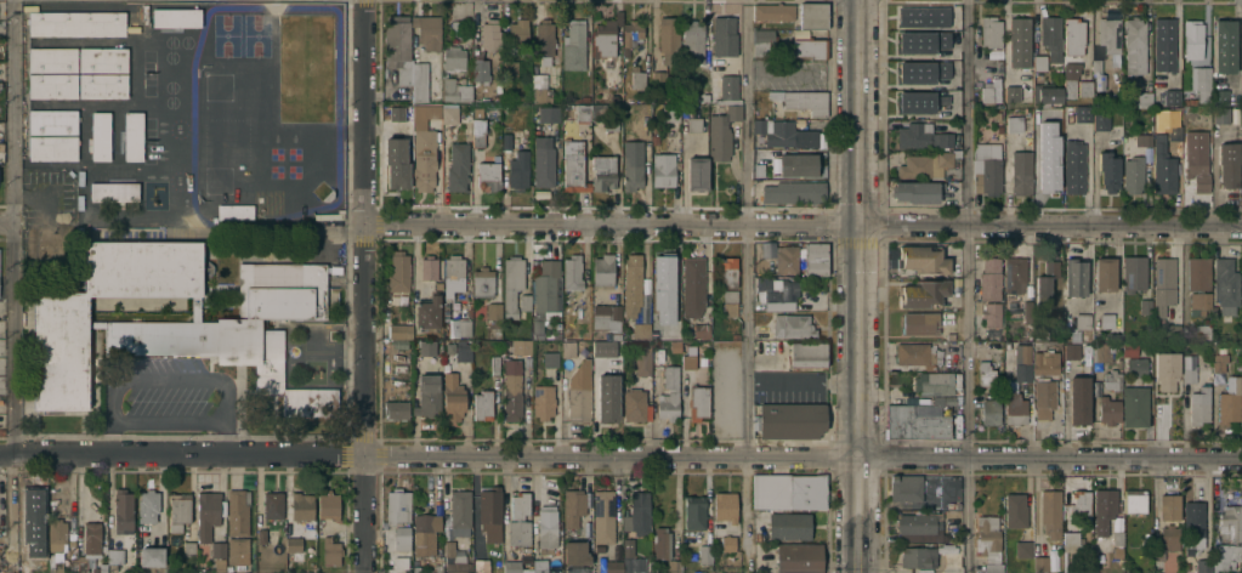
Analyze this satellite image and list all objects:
building: (773, 11)
building: (812, 15)
building: (176, 17)
building: (923, 17)
building: (76, 23)
building: (455, 28)
building: (427, 30)
building: (991, 32)
building: (631, 33)
building: (489, 34)
building: (1108, 34)
building: (517, 35)
building: (724, 35)
building: (1051, 36)
building: (1073, 36)
building: (603, 38)
building: (668, 38)
building: (1192, 38)
building: (396, 39)
building: (544, 40)
building: (692, 40)
building: (761, 41)
building: (921, 42)
building: (1017, 42)
building: (573, 44)
building: (1134, 45)
building: (1163, 45)
building: (1223, 46)
building: (809, 47)
building: (102, 58)
building: (453, 58)
building: (1039, 62)
building: (1096, 67)
building: (509, 68)
building: (480, 70)
building: (52, 72)
building: (920, 73)
building: (636, 76)
building: (658, 76)
building: (1070, 78)
building: (419, 81)
building: (1201, 81)
building: (102, 85)
building: (728, 86)
building: (1084, 87)
building: (455, 90)
building: (991, 90)
building: (1047, 92)
building: (541, 95)
building: (1010, 95)
building: (704, 97)
building: (1144, 97)
building: (1170, 97)
building: (1219, 97)
building: (495, 98)
building: (580, 98)
building: (484, 100)
building: (803, 100)
building: (919, 103)
building: (419, 110)
building: (669, 112)
building: (549, 113)
building: (582, 113)
building: (1083, 113)
building: (396, 114)
building: (449, 114)
building: (776, 114)
building: (1221, 114)
building: (996, 115)
building: (603, 118)
building: (1100, 120)
building: (1014, 124)
building: (693, 125)
building: (1174, 127)
building: (477, 131)
building: (721, 131)
building: (775, 131)
building: (52, 134)
building: (100, 135)
building: (132, 135)
building: (1039, 135)
building: (921, 136)
building: (998, 136)
building: (810, 137)
building: (1142, 138)
building: (506, 140)
building: (654, 140)
building: (424, 159)
building: (543, 160)
building: (573, 161)
building: (928, 163)
building: (1229, 163)
building: (396, 164)
building: (631, 164)
building: (796, 164)
building: (1162, 164)
building: (1197, 164)
building: (458, 166)
building: (1074, 166)
building: (987, 168)
building: (663, 169)
building: (518, 170)
building: (1108, 170)
building: (602, 171)
building: (758, 171)
building: (697, 172)
building: (1021, 172)
building: (1133, 174)
building: (488, 175)
building: (1049, 176)
building: (113, 191)
building: (794, 191)
building: (915, 191)
building: (234, 210)
building: (327, 212)
road: (5, 222)
road: (801, 226)
road: (10, 227)
building: (786, 259)
building: (816, 259)
building: (923, 259)
building: (429, 267)
building: (334, 268)
building: (602, 270)
building: (398, 271)
building: (572, 271)
building: (664, 271)
building: (726, 271)
building: (1134, 272)
building: (1197, 272)
building: (1014, 273)
building: (1105, 273)
building: (453, 274)
building: (1076, 276)
building: (989, 279)
building: (482, 280)
building: (511, 283)
building: (631, 283)
building: (1045, 283)
road: (744, 284)
building: (1163, 284)
building: (1225, 284)
building: (438, 285)
building: (692, 285)
road: (968, 285)
road: (362, 286)
building: (776, 286)
road: (857, 286)
building: (545, 293)
building: (923, 293)
building: (524, 301)
building: (728, 301)
building: (1198, 302)
building: (1145, 306)
building: (194, 307)
building: (494, 310)
building: (656, 310)
building: (427, 312)
building: (991, 313)
building: (606, 316)
building: (671, 317)
building: (578, 318)
building: (1083, 320)
building: (1106, 320)
building: (97, 323)
building: (920, 323)
building: (793, 325)
building: (463, 327)
building: (641, 329)
building: (244, 330)
building: (399, 330)
building: (702, 330)
building: (1203, 330)
building: (1174, 333)
building: (1040, 334)
building: (614, 335)
building: (736, 335)
building: (949, 335)
building: (1065, 336)
building: (1036, 345)
building: (1128, 346)
building: (521, 347)
building: (426, 348)
building: (602, 348)
building: (463, 350)
building: (59, 351)
building: (568, 351)
building: (1071, 351)
building: (1102, 351)
building: (770, 353)
building: (807, 353)
building: (915, 353)
building: (549, 361)
building: (688, 361)
building: (643, 362)
building: (1045, 362)
building: (1219, 362)
building: (1023, 363)
building: (495, 364)
building: (1136, 364)
building: (1072, 368)
building: (1241, 368)
building: (1166, 369)
building: (1189, 369)
building: (985, 373)
building: (1112, 379)
road: (171, 380)
building: (936, 382)
building: (511, 388)
building: (668, 393)
building: (427, 396)
building: (452, 396)
building: (1044, 397)
building: (1079, 397)
building: (607, 399)
building: (943, 399)
building: (579, 401)
building: (1229, 401)
building: (543, 402)
building: (698, 402)
building: (482, 404)
building: (634, 404)
building: (1135, 405)
building: (1200, 405)
building: (396, 408)
building: (1015, 408)
building: (1108, 409)
building: (989, 410)
road: (169, 420)
building: (792, 420)
building: (915, 424)
road: (109, 437)
road: (225, 438)
road: (620, 458)
building: (906, 487)
building: (788, 490)
building: (32, 500)
building: (1134, 500)
building: (1077, 503)
building: (518, 504)
building: (147, 505)
building: (273, 505)
building: (301, 505)
building: (328, 505)
building: (724, 505)
building: (397, 506)
building: (573, 506)
building: (123, 509)
building: (1102, 509)
building: (177, 510)
building: (1015, 510)
building: (459, 511)
building: (489, 511)
building: (693, 511)
building: (208, 512)
building: (237, 512)
building: (1050, 512)
building: (637, 514)
building: (602, 516)
building: (1176, 521)
building: (1229, 522)
building: (915, 523)
building: (788, 524)
building: (1192, 526)
building: (302, 528)
building: (546, 528)
building: (35, 529)
building: (518, 532)
building: (56, 533)
building: (70, 533)
building: (424, 534)
building: (260, 535)
building: (762, 535)
building: (954, 537)
building: (401, 538)
building: (1117, 538)
building: (1147, 538)
building: (174, 539)
building: (660, 541)
building: (1070, 541)
building: (726, 543)
building: (988, 543)
building: (293, 544)
building: (90, 548)
building: (188, 548)
building: (217, 549)
building: (597, 549)
building: (1022, 549)
building: (237, 550)
building: (330, 550)
building: (704, 554)
building: (114, 555)
building: (0, 556)
building: (151, 556)
building: (574, 556)
building: (917, 556)
building: (1223, 556)
building: (454, 557)
building: (630, 558)
building: (798, 558)
building: (73, 560)
building: (55, 561)
building: (393, 561)
building: (1040, 563)
building: (219, 565)
building: (648, 565)
building: (480, 566)
building: (512, 566)
building: (539, 566)
building: (612, 566)
building: (673, 566)
building: (1185, 566)
building: (1202, 566)
building: (498, 567)
building: (437, 568)
building: (415, 569)
building: (653, 569)
building: (698, 572)

